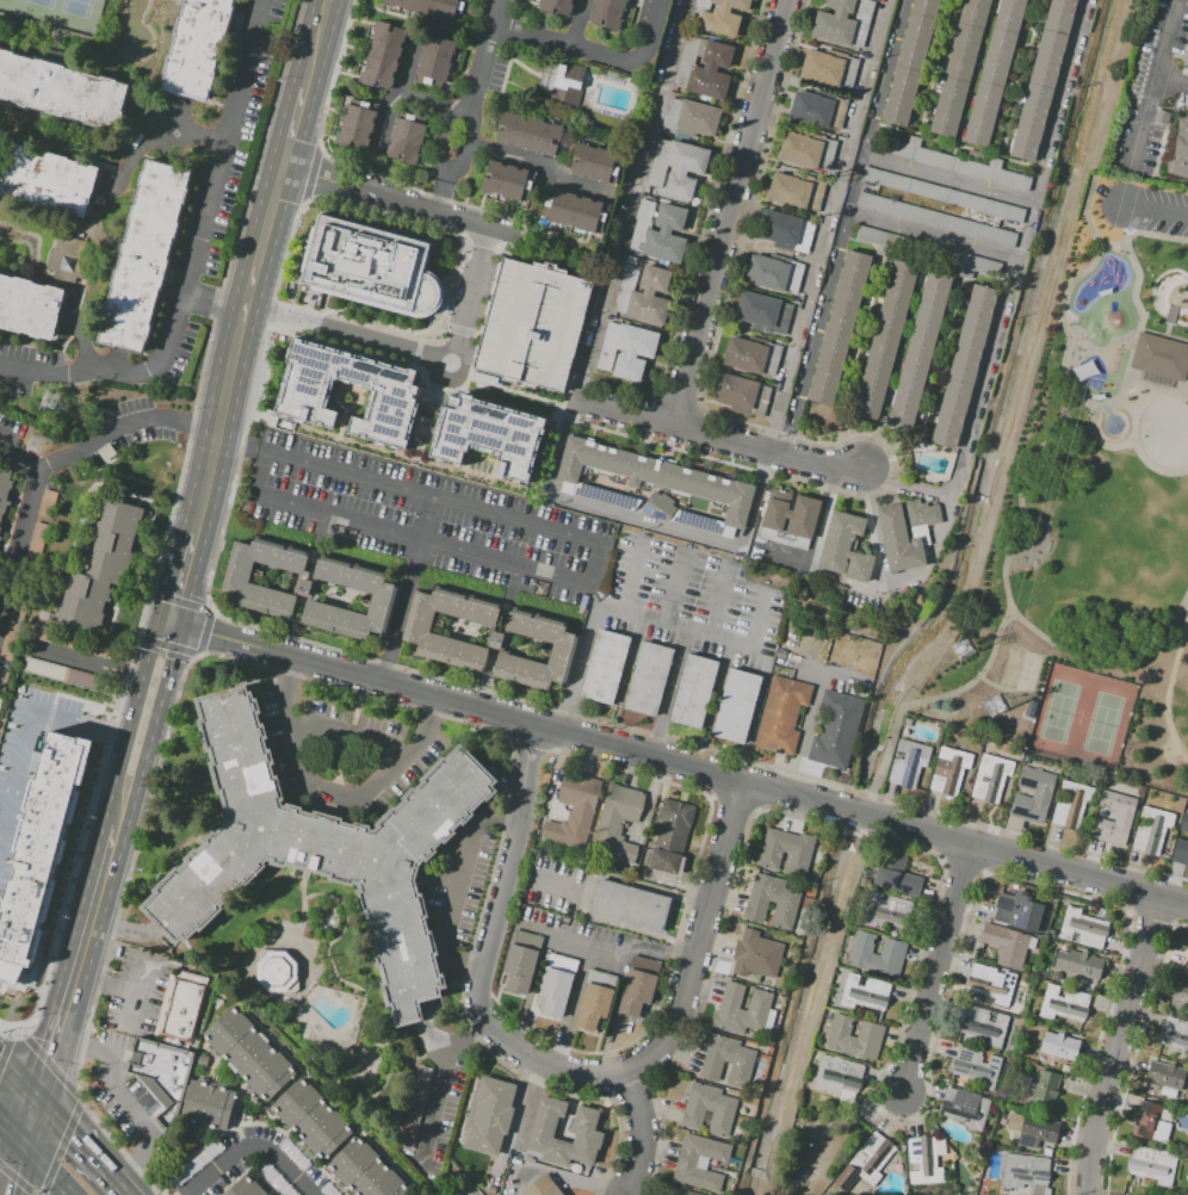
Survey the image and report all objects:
road: (333, 1)
building: (556, 6)
building: (427, 8)
park: (58, 13)
building: (607, 13)
building: (723, 17)
road: (577, 21)
building: (844, 21)
building: (385, 32)
road: (654, 32)
road: (568, 43)
road: (321, 47)
building: (382, 48)
building: (194, 50)
road: (1164, 55)
road: (101, 61)
building: (435, 62)
building: (910, 62)
building: (378, 63)
building: (829, 68)
building: (958, 69)
building: (995, 70)
building: (711, 73)
building: (373, 78)
road: (885, 78)
building: (1041, 79)
building: (564, 82)
road: (398, 88)
building: (63, 91)
parking lot: (1150, 91)
road: (1062, 100)
road: (469, 104)
road: (431, 107)
building: (817, 111)
road: (179, 117)
building: (697, 118)
road: (1146, 123)
building: (353, 125)
road: (179, 129)
road: (297, 130)
road: (18, 131)
building: (527, 134)
building: (406, 141)
building: (800, 149)
building: (1180, 149)
road: (131, 161)
road: (537, 162)
building: (952, 162)
building: (595, 163)
building: (685, 168)
road: (310, 174)
road: (376, 175)
road: (949, 178)
building: (48, 180)
building: (505, 181)
road: (856, 182)
building: (788, 191)
building: (941, 193)
road: (1090, 194)
road: (426, 206)
road: (1155, 208)
building: (575, 211)
road: (730, 211)
parking lot: (1163, 211)
building: (935, 218)
building: (779, 228)
road: (1027, 229)
road: (934, 234)
building: (666, 235)
road: (460, 236)
road: (1151, 236)
building: (928, 250)
building: (146, 258)
road: (1131, 258)
building: (69, 260)
road: (192, 262)
building: (369, 266)
building: (768, 273)
road: (216, 295)
park: (1177, 296)
building: (650, 297)
road: (1181, 297)
road: (1138, 301)
building: (30, 309)
road: (211, 310)
building: (756, 310)
road: (1172, 312)
road: (1062, 318)
building: (532, 324)
building: (840, 327)
road: (1168, 328)
road: (816, 330)
road: (1152, 330)
road: (1177, 336)
building: (884, 339)
road: (417, 349)
building: (917, 349)
road: (235, 351)
building: (633, 352)
road: (1132, 353)
building: (744, 354)
building: (1161, 355)
building: (965, 366)
road: (985, 377)
road: (1156, 386)
building: (735, 391)
building: (298, 397)
power tower: (48, 398)
road: (1109, 398)
road: (125, 426)
road: (720, 434)
building: (478, 440)
power tower: (36, 445)
road: (1133, 447)
building: (106, 453)
building: (655, 475)
road: (910, 484)
building: (5, 489)
road: (1020, 500)
building: (47, 501)
building: (662, 502)
road: (29, 513)
building: (791, 514)
building: (922, 514)
parking lot: (417, 516)
road: (669, 527)
park: (1095, 535)
building: (898, 540)
building: (844, 547)
road: (598, 562)
building: (99, 569)
road: (635, 577)
road: (184, 580)
road: (889, 584)
building: (361, 586)
road: (676, 587)
road: (407, 589)
building: (21, 590)
road: (722, 600)
parking lot: (694, 601)
road: (621, 612)
road: (761, 620)
traffic signals: (171, 625)
building: (417, 630)
building: (72, 640)
building: (496, 640)
building: (562, 648)
power tower: (961, 652)
road: (69, 656)
road: (1107, 658)
park: (1011, 665)
building: (605, 667)
road: (823, 670)
road: (122, 671)
building: (63, 674)
road: (140, 674)
building: (648, 679)
building: (2, 681)
road: (1169, 687)
building: (694, 692)
road: (670, 693)
road: (922, 701)
road: (544, 702)
building: (737, 705)
power tower: (995, 707)
road: (27, 714)
building: (781, 714)
road: (756, 716)
park: (1079, 717)
road: (154, 727)
building: (837, 730)
road: (809, 732)
road: (351, 738)
building: (909, 762)
road: (679, 763)
building: (949, 769)
road: (115, 778)
building: (990, 779)
road: (336, 792)
building: (1033, 794)
building: (1071, 804)
building: (574, 813)
building: (1115, 818)
building: (1183, 823)
building: (614, 824)
building: (1152, 830)
building: (672, 836)
building: (39, 848)
building: (321, 848)
building: (1180, 850)
building: (797, 859)
building: (898, 875)
road: (463, 887)
road: (649, 887)
road: (582, 891)
building: (772, 902)
building: (629, 905)
building: (891, 905)
building: (1019, 910)
building: (1082, 928)
road: (636, 929)
building: (1051, 933)
road: (703, 936)
building: (1006, 943)
road: (488, 948)
building: (756, 954)
building: (877, 954)
road: (78, 961)
building: (520, 961)
building: (1077, 965)
road: (935, 967)
building: (1187, 968)
building: (276, 972)
building: (992, 983)
building: (557, 984)
road: (105, 985)
building: (638, 986)
road: (136, 992)
building: (864, 993)
building: (1178, 995)
building: (594, 999)
building: (730, 999)
road: (815, 1004)
building: (1064, 1004)
building: (180, 1011)
building: (983, 1026)
building: (1172, 1035)
building: (854, 1038)
road: (1118, 1046)
building: (1060, 1047)
building: (248, 1054)
building: (726, 1059)
building: (976, 1065)
building: (160, 1069)
road: (18, 1077)
building: (839, 1077)
building: (1164, 1077)
road: (443, 1078)
building: (1045, 1089)
road: (119, 1096)
traffic signals: (38, 1098)
building: (208, 1106)
building: (709, 1107)
building: (965, 1107)
building: (488, 1114)
building: (311, 1119)
building: (1146, 1119)
road: (31, 1120)
road: (12, 1128)
building: (1032, 1128)
building: (584, 1132)
road: (648, 1135)
traffic signals: (24, 1141)
road: (87, 1145)
road: (252, 1147)
building: (865, 1162)
building: (923, 1162)
building: (699, 1163)
building: (1152, 1165)
road: (16, 1168)
road: (49, 1168)
building: (366, 1171)
building: (1026, 1174)
road: (557, 1175)
building: (542, 1187)
building: (245, 1188)
building: (685, 1193)

